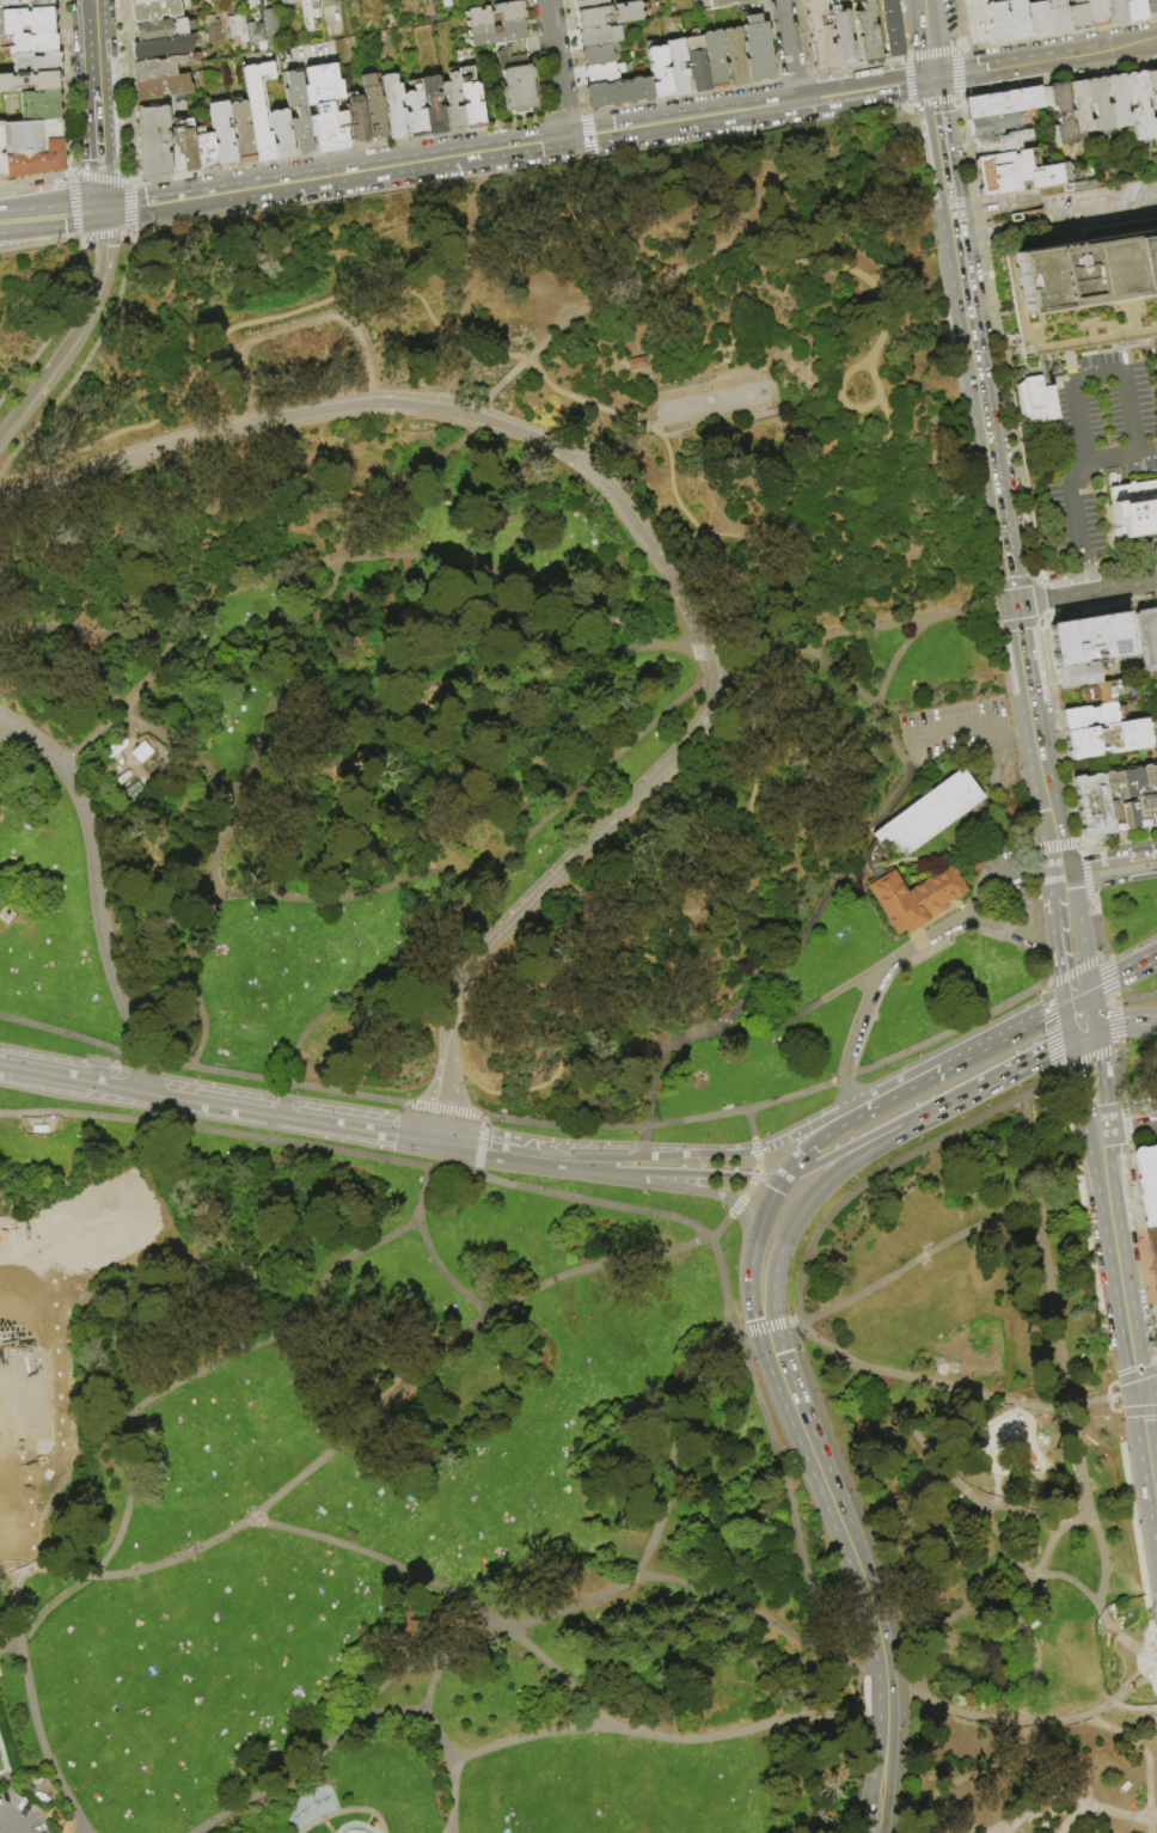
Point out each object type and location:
building: (489, 0)
building: (1046, 0)
building: (142, 1)
building: (289, 1)
building: (500, 1)
building: (729, 2)
building: (29, 4)
building: (255, 4)
building: (329, 4)
building: (589, 4)
building: (1150, 6)
road: (90, 8)
building: (0, 10)
building: (1134, 10)
building: (155, 11)
building: (1114, 12)
building: (1096, 13)
building: (495, 14)
building: (1077, 14)
building: (608, 16)
building: (1058, 17)
building: (1037, 18)
building: (27, 22)
building: (1008, 22)
building: (269, 23)
road: (962, 24)
building: (235, 25)
building: (893, 28)
road: (905, 29)
building: (164, 30)
building: (212, 32)
building: (253, 32)
building: (496, 33)
building: (868, 35)
road: (1055, 35)
building: (820, 36)
building: (598, 37)
building: (843, 37)
road: (929, 39)
building: (29, 44)
building: (164, 48)
building: (759, 49)
road: (789, 50)
road: (960, 50)
road: (1098, 51)
road: (933, 53)
building: (601, 55)
building: (736, 56)
road: (93, 57)
road: (535, 57)
road: (908, 57)
building: (716, 59)
building: (36, 63)
building: (698, 63)
building: (678, 67)
building: (157, 68)
road: (555, 69)
road: (986, 71)
building: (660, 72)
building: (601, 73)
road: (959, 73)
road: (822, 75)
traffic signals: (932, 80)
building: (30, 81)
road: (1058, 81)
building: (516, 83)
road: (910, 83)
building: (1152, 86)
building: (163, 87)
road: (864, 90)
road: (127, 91)
building: (619, 93)
building: (471, 98)
road: (957, 99)
building: (1118, 100)
road: (932, 103)
building: (1002, 103)
building: (453, 104)
building: (1098, 104)
building: (1139, 105)
building: (42, 106)
building: (393, 106)
building: (433, 106)
building: (1079, 106)
building: (374, 108)
building: (259, 109)
building: (326, 109)
building: (1059, 111)
building: (299, 112)
road: (935, 112)
building: (416, 114)
road: (696, 117)
building: (357, 120)
building: (997, 123)
building: (1155, 128)
building: (243, 132)
building: (224, 134)
building: (282, 135)
building: (1, 136)
building: (1000, 142)
building: (153, 143)
building: (33, 147)
building: (188, 149)
road: (343, 149)
building: (206, 151)
road: (98, 153)
road: (470, 154)
road: (806, 161)
building: (2, 167)
building: (1017, 173)
road: (72, 175)
road: (944, 176)
road: (102, 178)
road: (131, 182)
road: (224, 194)
road: (997, 206)
road: (134, 207)
road: (75, 208)
traffic signals: (103, 210)
road: (50, 212)
road: (626, 215)
road: (1103, 215)
road: (128, 233)
road: (1003, 233)
road: (106, 237)
road: (85, 240)
road: (789, 262)
road: (871, 287)
road: (469, 288)
road: (619, 291)
building: (1079, 305)
road: (251, 322)
road: (55, 325)
road: (641, 329)
road: (78, 336)
road: (996, 337)
building: (1153, 353)
road: (953, 354)
building: (635, 361)
road: (88, 363)
road: (1126, 373)
road: (544, 377)
road: (678, 380)
road: (501, 385)
road: (839, 396)
park: (717, 403)
road: (982, 405)
road: (611, 410)
road: (649, 410)
road: (717, 423)
road: (1079, 468)
road: (672, 487)
road: (820, 490)
building: (1134, 508)
road: (624, 509)
road: (1081, 518)
road: (726, 525)
road: (304, 567)
road: (1098, 568)
road: (392, 573)
road: (1090, 573)
road: (494, 575)
road: (1039, 578)
road: (752, 581)
road: (1010, 581)
road: (37, 582)
road: (1085, 593)
road: (1040, 599)
traffic signals: (1015, 605)
road: (1100, 609)
road: (1040, 619)
road: (1016, 624)
road: (887, 625)
building: (1149, 636)
building: (1095, 639)
road: (1021, 649)
road: (692, 650)
road: (96, 667)
road: (832, 673)
building: (1078, 677)
road: (271, 684)
building: (1107, 692)
road: (881, 694)
building: (1092, 716)
road: (959, 725)
parking lot: (953, 728)
road: (1058, 729)
road: (24, 733)
road: (1017, 733)
building: (1109, 739)
building: (139, 751)
road: (354, 763)
road: (1043, 777)
building: (1149, 792)
road: (1022, 794)
road: (990, 798)
building: (1124, 799)
building: (1090, 804)
building: (923, 818)
road: (1118, 833)
road: (1078, 841)
road: (1052, 844)
road: (967, 848)
road: (221, 850)
road: (1107, 854)
road: (917, 862)
road: (1059, 873)
road: (1085, 873)
road: (1109, 876)
road: (977, 886)
road: (410, 887)
road: (832, 892)
road: (1021, 894)
road: (1061, 894)
building: (914, 897)
road: (98, 904)
road: (1057, 917)
road: (436, 924)
road: (1008, 924)
road: (669, 927)
road: (1095, 928)
road: (936, 931)
road: (1082, 941)
road: (917, 953)
road: (1102, 954)
road: (890, 959)
road: (1133, 963)
road: (1057, 965)
road: (1071, 970)
park: (1133, 971)
road: (1110, 974)
road: (1100, 979)
road: (1042, 985)
traffic signals: (1090, 985)
road: (1076, 994)
road: (344, 995)
road: (1112, 997)
road: (1134, 997)
traffic signals: (1063, 1002)
road: (1108, 1003)
road: (1114, 1003)
road: (1092, 1007)
road: (1051, 1008)
road: (1115, 1015)
road: (1135, 1020)
road: (1065, 1021)
road: (1072, 1021)
road: (1106, 1026)
road: (714, 1029)
road: (1046, 1029)
traffic signals: (1096, 1029)
road: (947, 1031)
road: (1118, 1032)
road: (62, 1033)
road: (1082, 1035)
park: (534, 1037)
road: (851, 1039)
traffic signals: (1069, 1041)
road: (1115, 1049)
road: (141, 1057)
road: (948, 1059)
road: (1084, 1061)
road: (111, 1067)
road: (1119, 1068)
road: (1051, 1071)
road: (840, 1076)
road: (71, 1079)
road: (990, 1081)
road: (1103, 1082)
road: (280, 1083)
road: (447, 1086)
road: (1076, 1092)
road: (911, 1105)
road: (1132, 1106)
road: (423, 1108)
road: (278, 1112)
road: (465, 1114)
road: (289, 1116)
road: (1125, 1120)
road: (661, 1122)
road: (751, 1123)
road: (439, 1125)
road: (806, 1128)
road: (1127, 1131)
road: (238, 1136)
road: (819, 1139)
road: (461, 1144)
road: (1143, 1144)
road: (480, 1145)
road: (1029, 1153)
road: (698, 1154)
road: (563, 1160)
road: (889, 1166)
road: (231, 1174)
road: (697, 1174)
road: (769, 1178)
road: (753, 1180)
building: (1147, 1183)
road: (690, 1185)
road: (807, 1203)
park: (130, 1205)
road: (644, 1212)
park: (100, 1220)
road: (720, 1228)
road: (1084, 1229)
road: (749, 1230)
park: (68, 1234)
road: (175, 1241)
road: (1140, 1246)
building: (1153, 1247)
road: (754, 1250)
road: (429, 1252)
road: (916, 1263)
road: (1119, 1273)
road: (1054, 1307)
building: (1156, 1307)
park: (32, 1310)
park: (6, 1313)
road: (790, 1322)
road: (764, 1327)
traffic signals: (766, 1327)
road: (737, 1333)
road: (455, 1339)
road: (1156, 1364)
road: (206, 1365)
road: (1134, 1374)
road: (925, 1383)
road: (1107, 1388)
road: (1147, 1391)
traffic signals: (1138, 1393)
road: (1124, 1395)
road: (1089, 1403)
park: (36, 1404)
park: (8, 1407)
road: (1109, 1407)
road: (1130, 1412)
road: (1149, 1412)
park: (1002, 1437)
road: (71, 1452)
building: (1020, 1454)
road: (1034, 1459)
road: (1149, 1460)
park: (208, 1462)
road: (847, 1479)
road: (832, 1505)
park: (10, 1508)
road: (1088, 1510)
road: (1016, 1511)
road: (794, 1522)
road: (1132, 1522)
road: (992, 1528)
road: (1053, 1534)
road: (129, 1575)
road: (443, 1589)
road: (986, 1600)
road: (1089, 1600)
road: (48, 1606)
road: (747, 1609)
road: (8, 1613)
road: (520, 1621)
road: (1106, 1623)
road: (1132, 1643)
road: (10, 1646)
road: (1153, 1655)
road: (898, 1662)
road: (1126, 1662)
road: (1034, 1674)
road: (863, 1678)
road: (913, 1697)
road: (902, 1698)
road: (883, 1700)
road: (33, 1704)
road: (865, 1705)
road: (386, 1712)
road: (1006, 1723)
road: (883, 1725)
road: (651, 1735)
road: (440, 1741)
road: (1139, 1749)
park: (0, 1767)
road: (24, 1770)
road: (900, 1772)
road: (861, 1774)
road: (972, 1776)
park: (642, 1783)
road: (873, 1785)
road: (887, 1785)
park: (595, 1786)
park: (538, 1794)
road: (8, 1796)
park: (492, 1798)
road: (1096, 1808)
road: (347, 1811)
parking lot: (18, 1815)
road: (1146, 1820)
road: (13, 1822)
park: (649, 1825)
park: (602, 1827)
park: (543, 1829)
road: (449, 1832)
park: (513, 1832)

